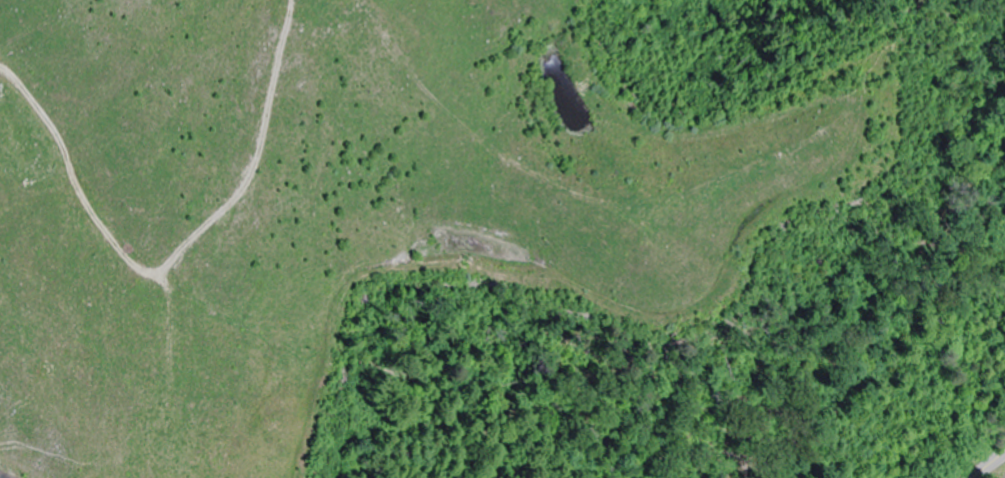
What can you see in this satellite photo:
road: (987, 463)

